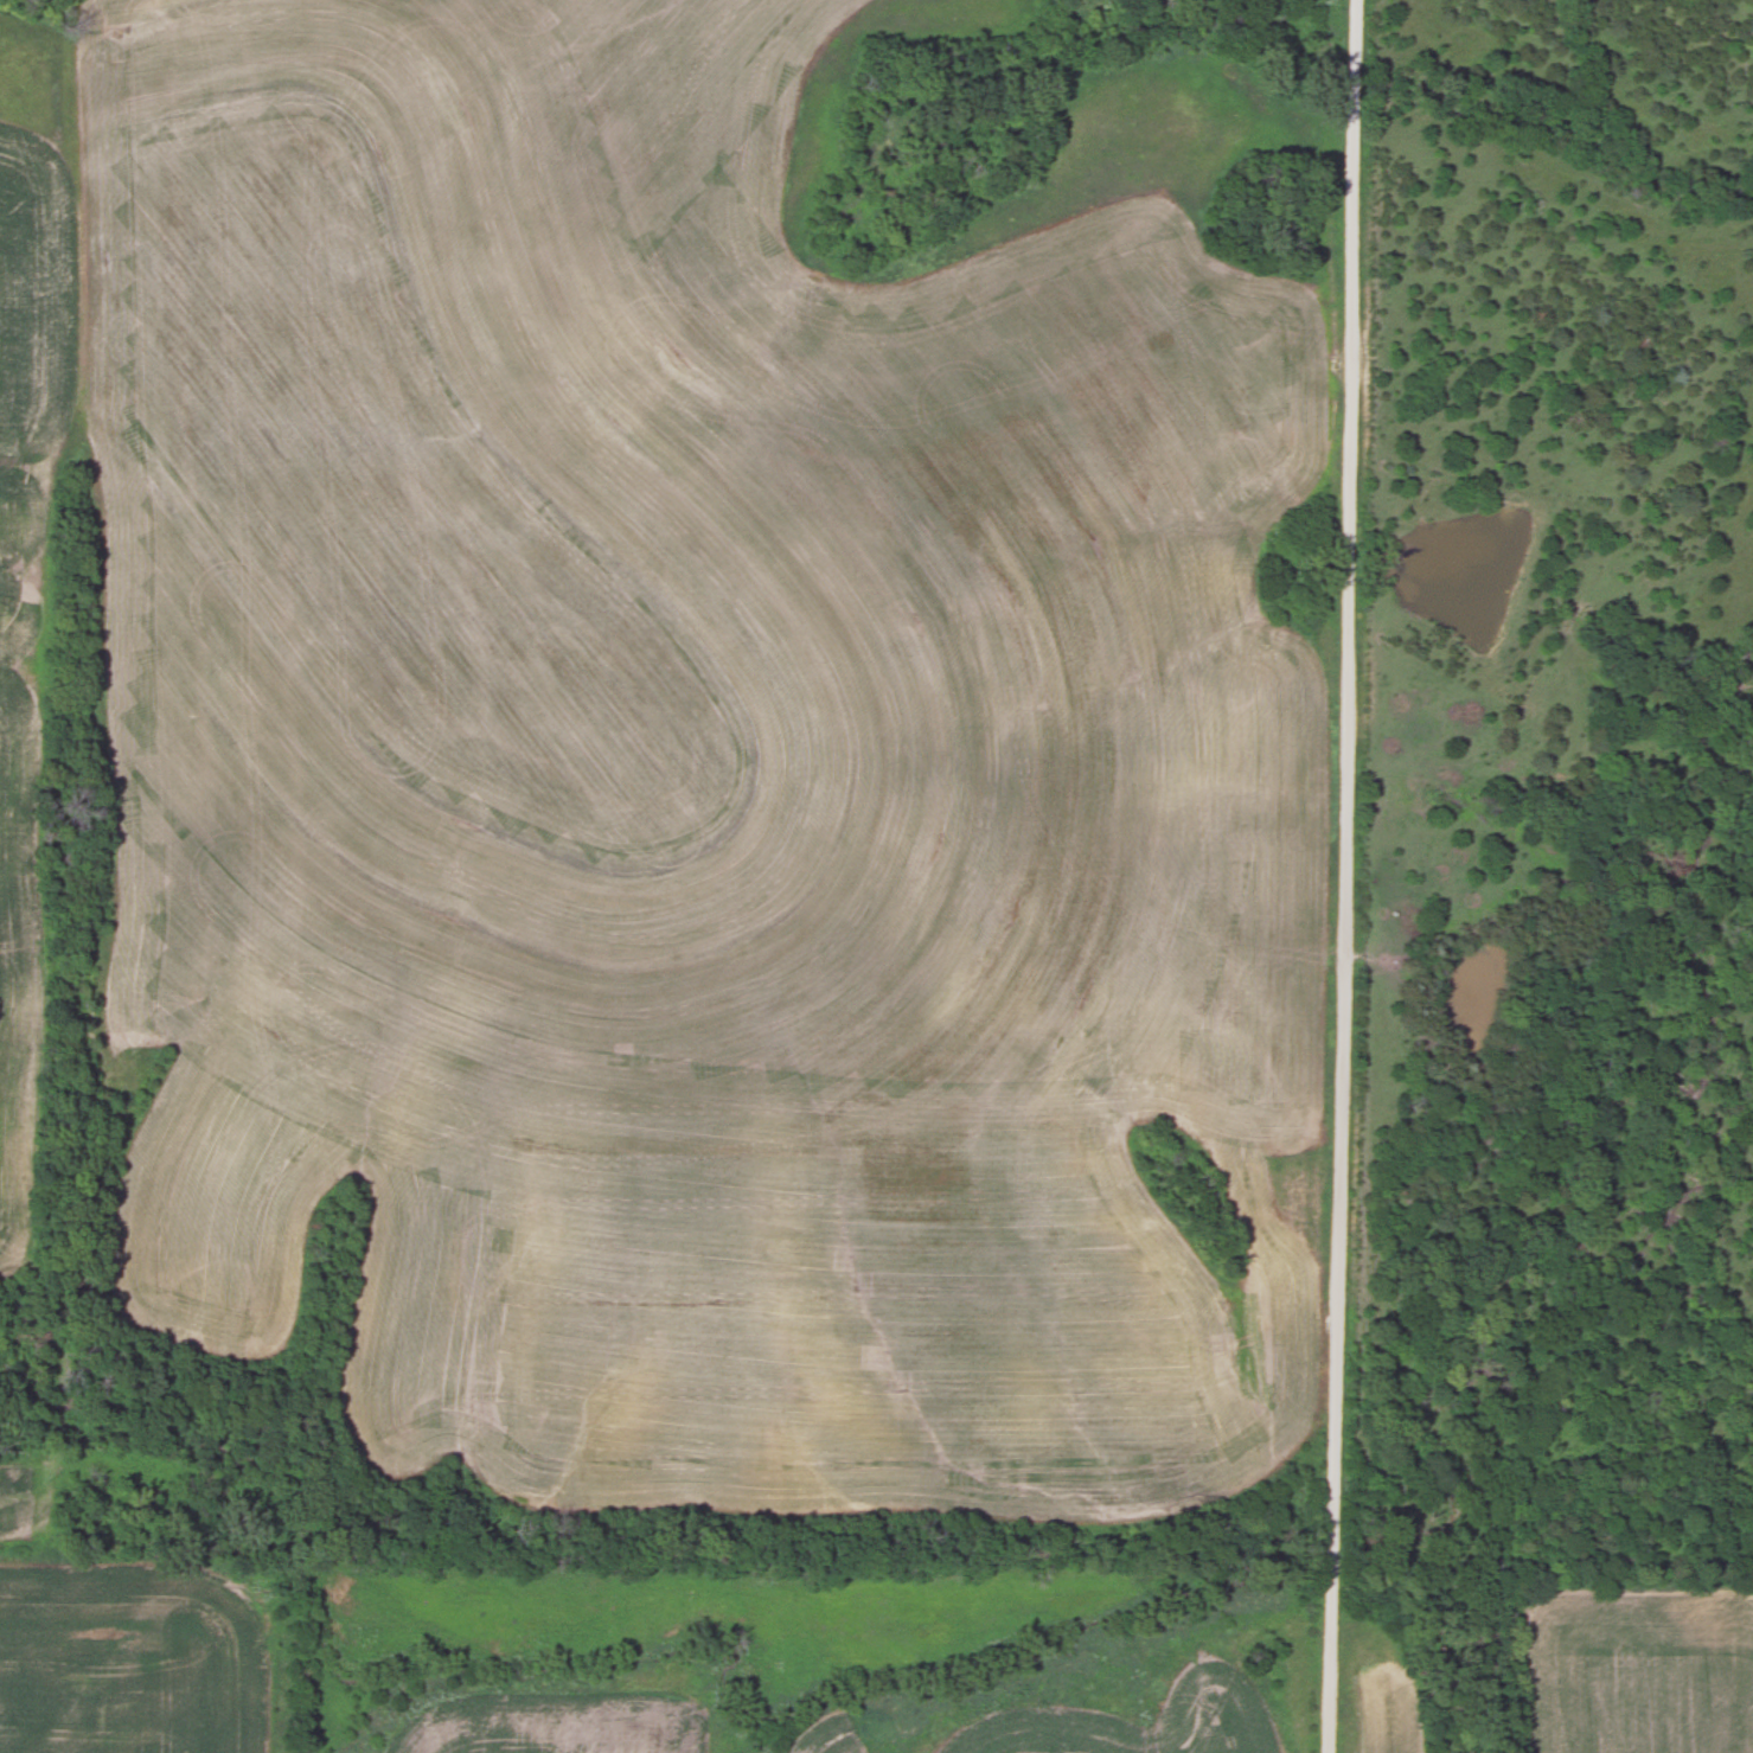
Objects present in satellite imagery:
road: (1351, 876)

